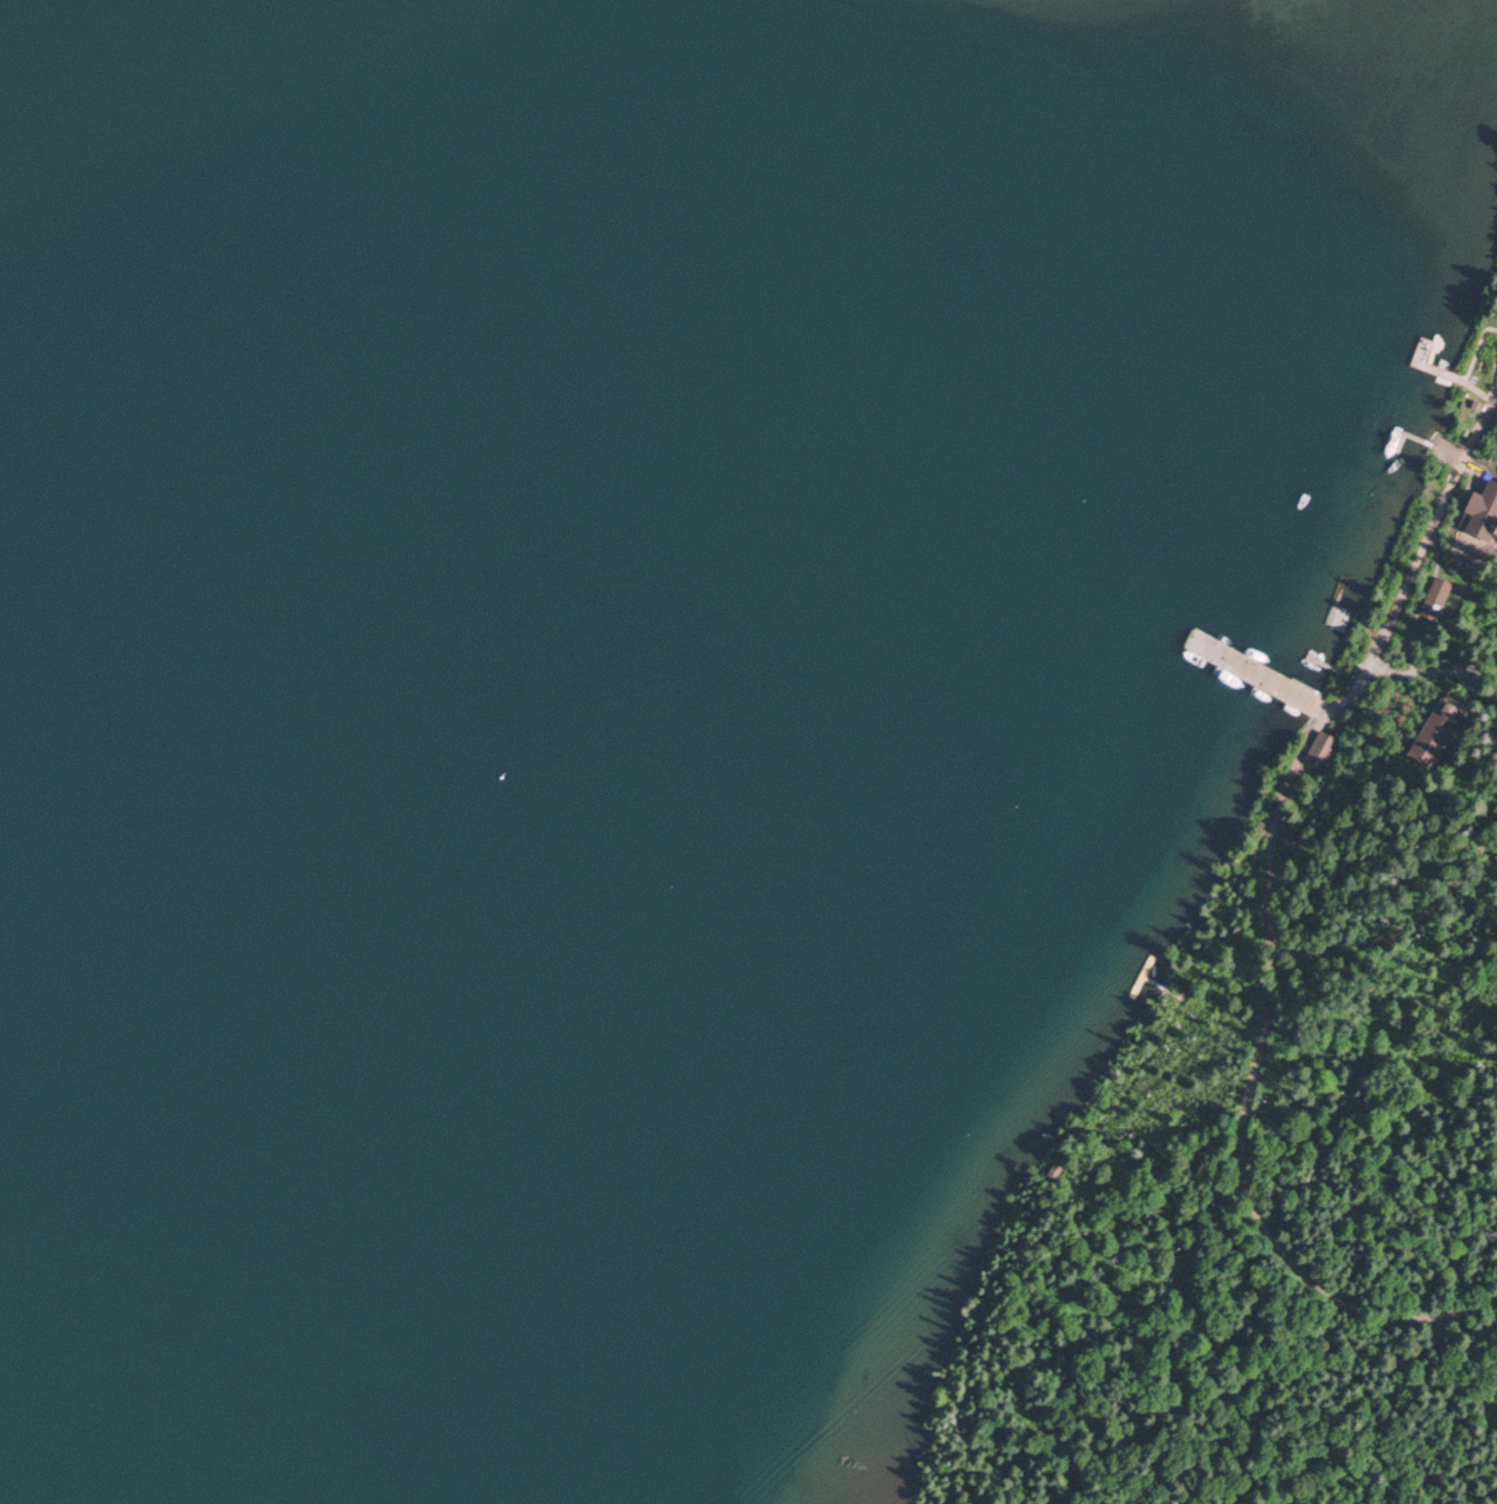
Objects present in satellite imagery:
pier: (1424, 350)
pier: (1406, 432)
pier: (1331, 591)
pier: (1342, 597)
building: (1437, 598)
road: (1396, 602)
pier: (1347, 609)
pier: (1252, 669)
road: (1432, 670)
building: (1438, 730)
building: (1320, 748)
building: (1289, 838)
building: (1493, 861)
road: (1400, 927)
pier: (1146, 969)
pier: (1153, 980)
road: (1240, 1145)
road: (1176, 1187)

